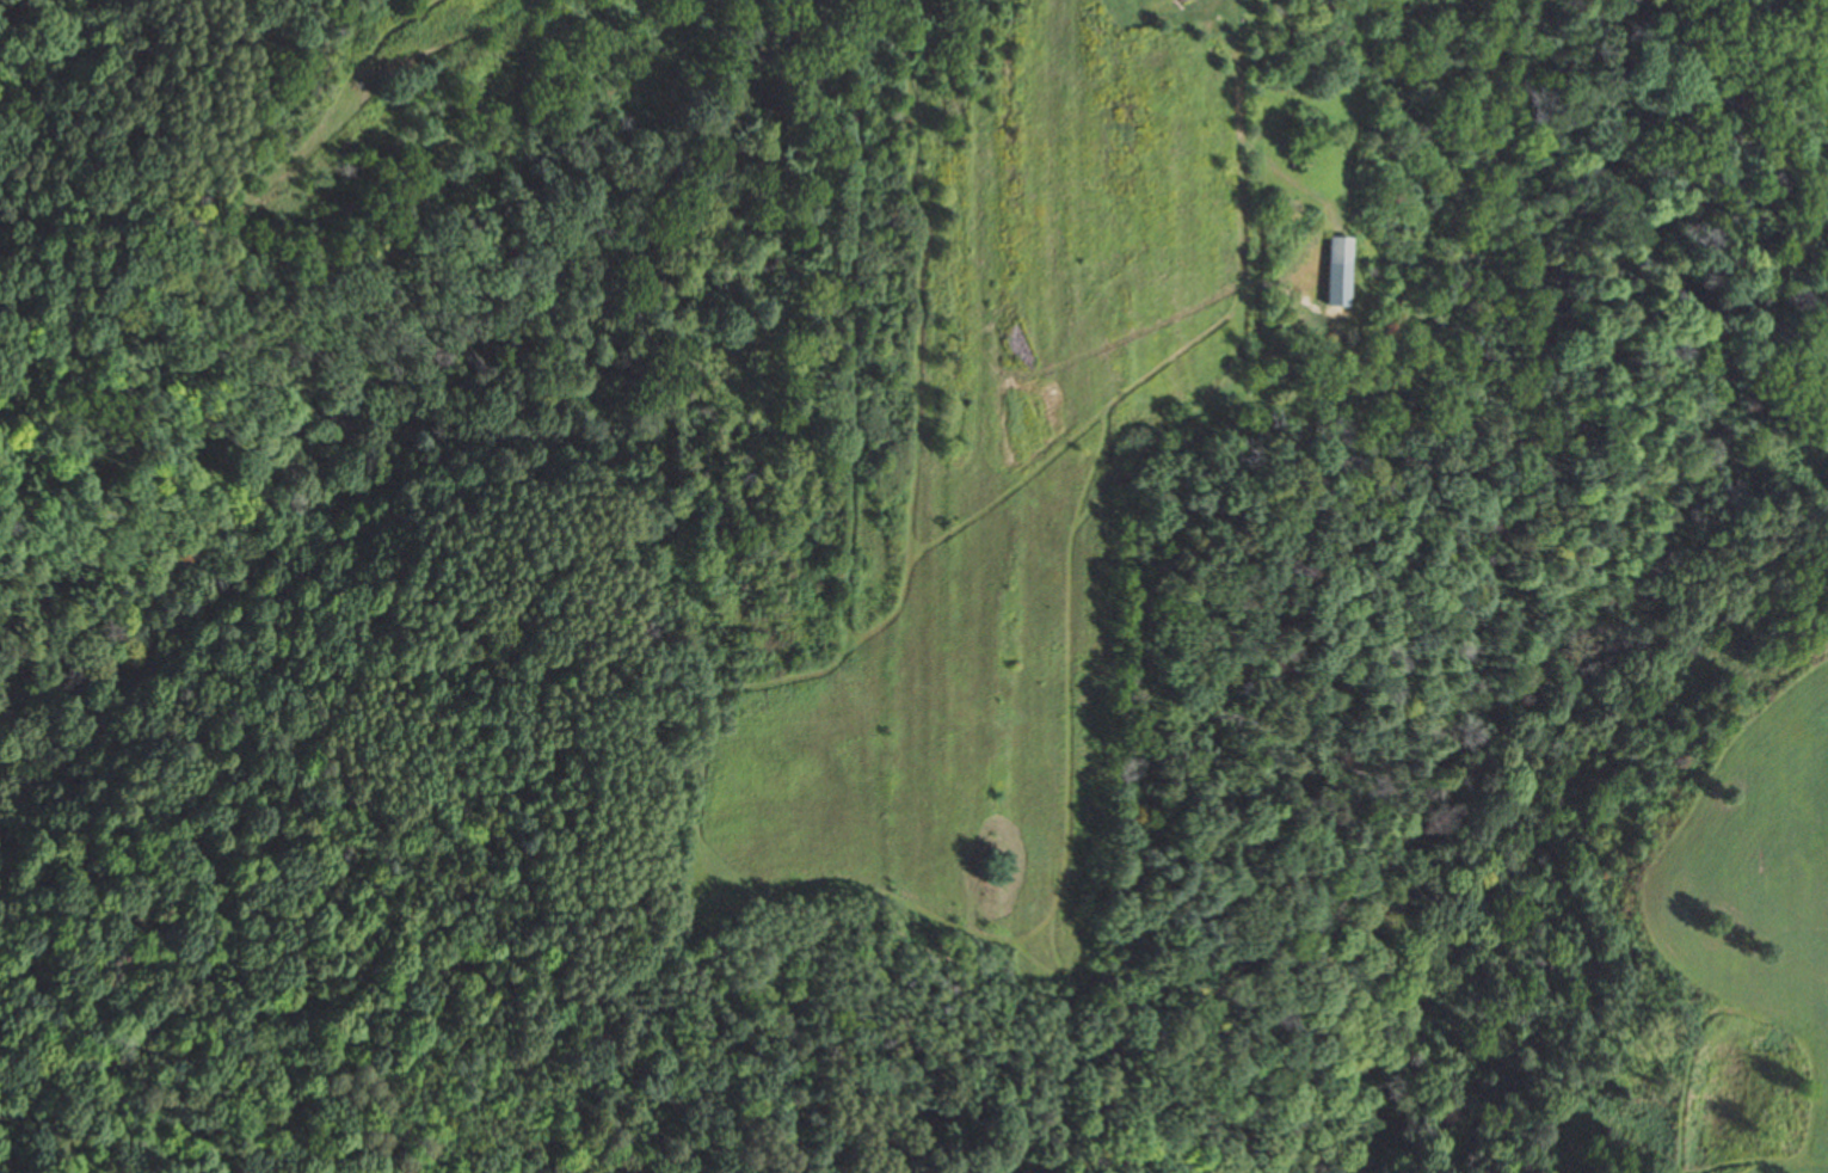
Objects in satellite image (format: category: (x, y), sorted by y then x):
building: (1186, 1)
building: (1341, 251)

